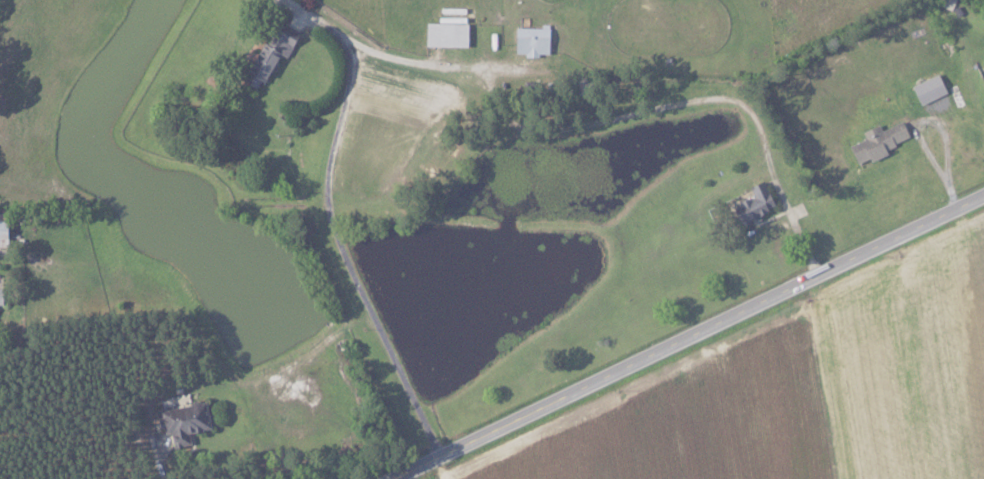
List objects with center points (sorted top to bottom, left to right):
building: (535, 40)
building: (276, 52)
building: (933, 88)
road: (589, 122)
building: (884, 140)
building: (761, 200)
building: (6, 229)
road: (342, 251)
building: (3, 295)
road: (686, 341)
building: (187, 422)
road: (159, 459)

